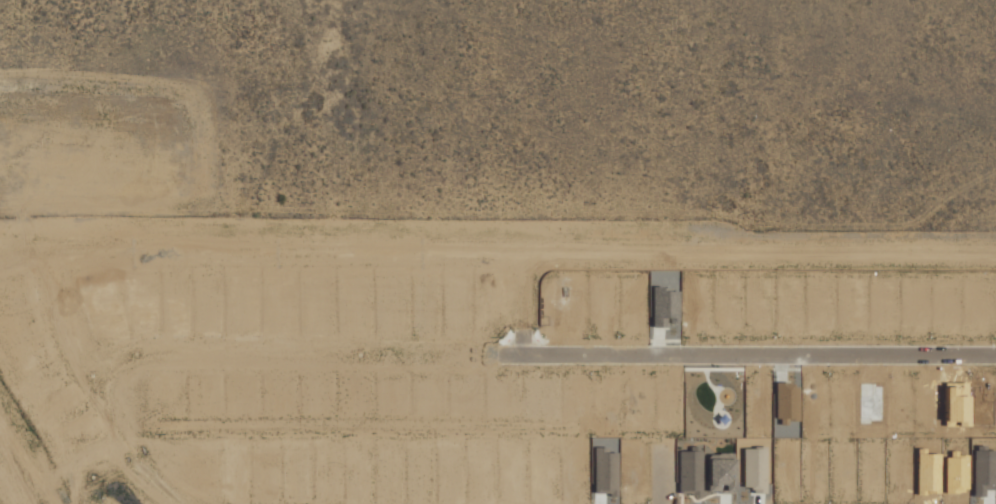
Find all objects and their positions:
road: (498, 240)
road: (531, 297)
road: (543, 354)
road: (102, 387)
road: (20, 477)

